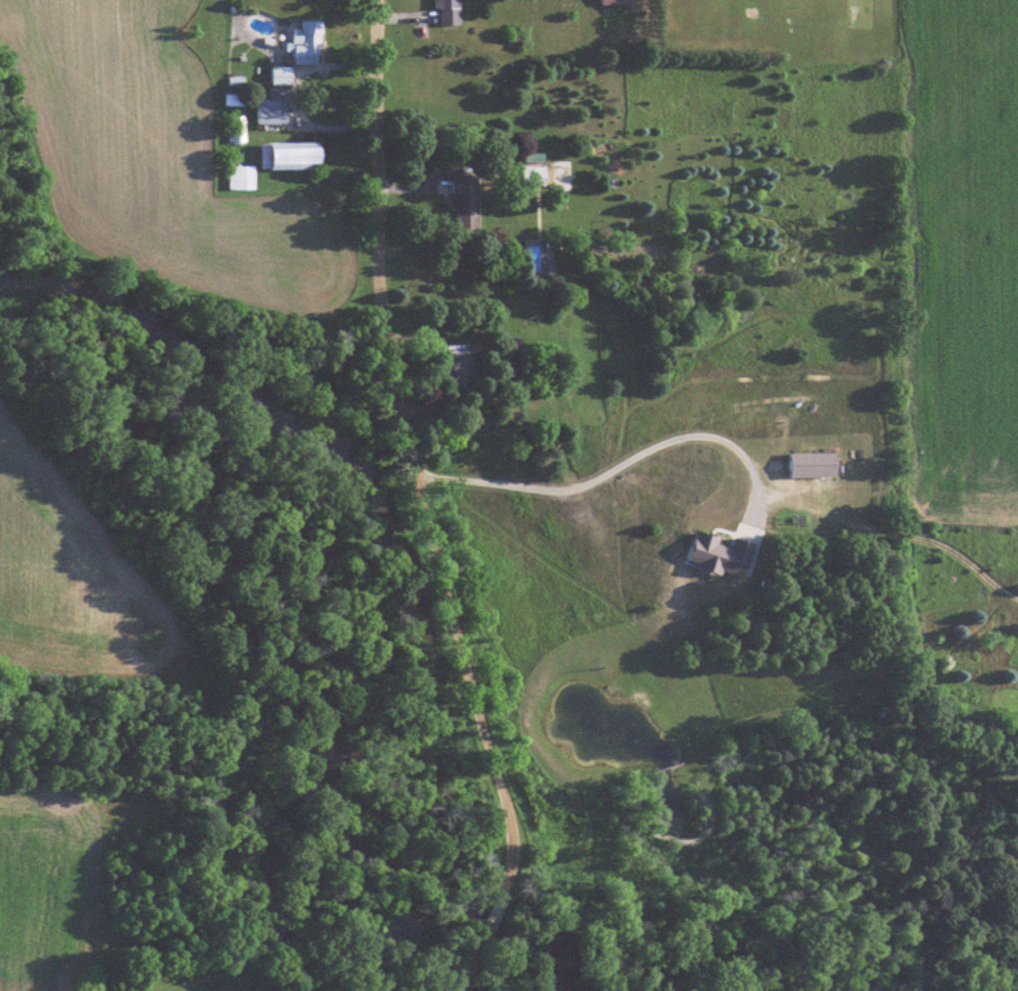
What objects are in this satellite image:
building: (618, 2)
building: (450, 12)
building: (310, 43)
building: (282, 75)
building: (273, 111)
building: (293, 156)
building: (547, 173)
building: (243, 177)
building: (468, 202)
building: (538, 363)
building: (465, 369)
road: (607, 470)
road: (421, 504)
river: (369, 551)
building: (997, 627)

